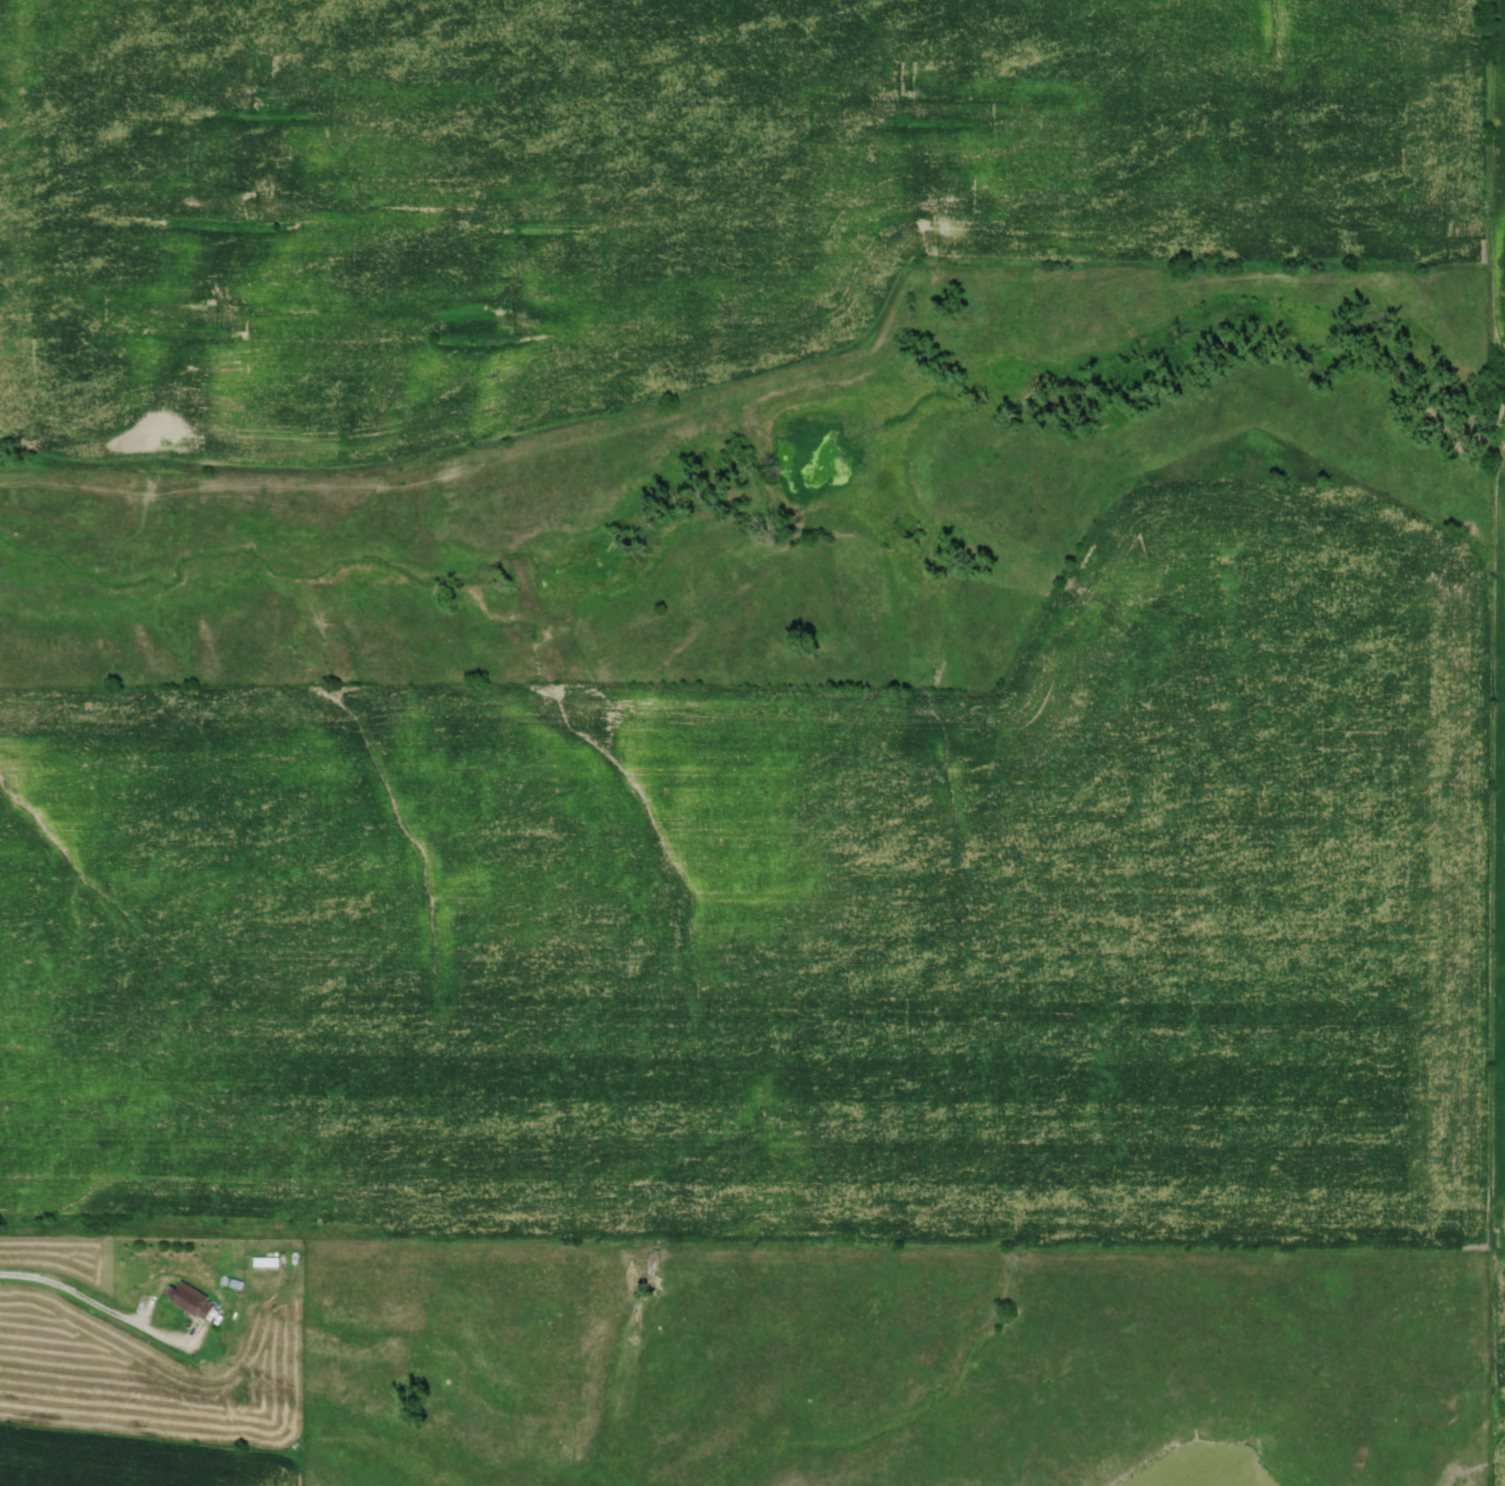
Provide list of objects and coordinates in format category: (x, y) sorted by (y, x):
building: (267, 1262)
building: (190, 1299)
road: (92, 1306)

